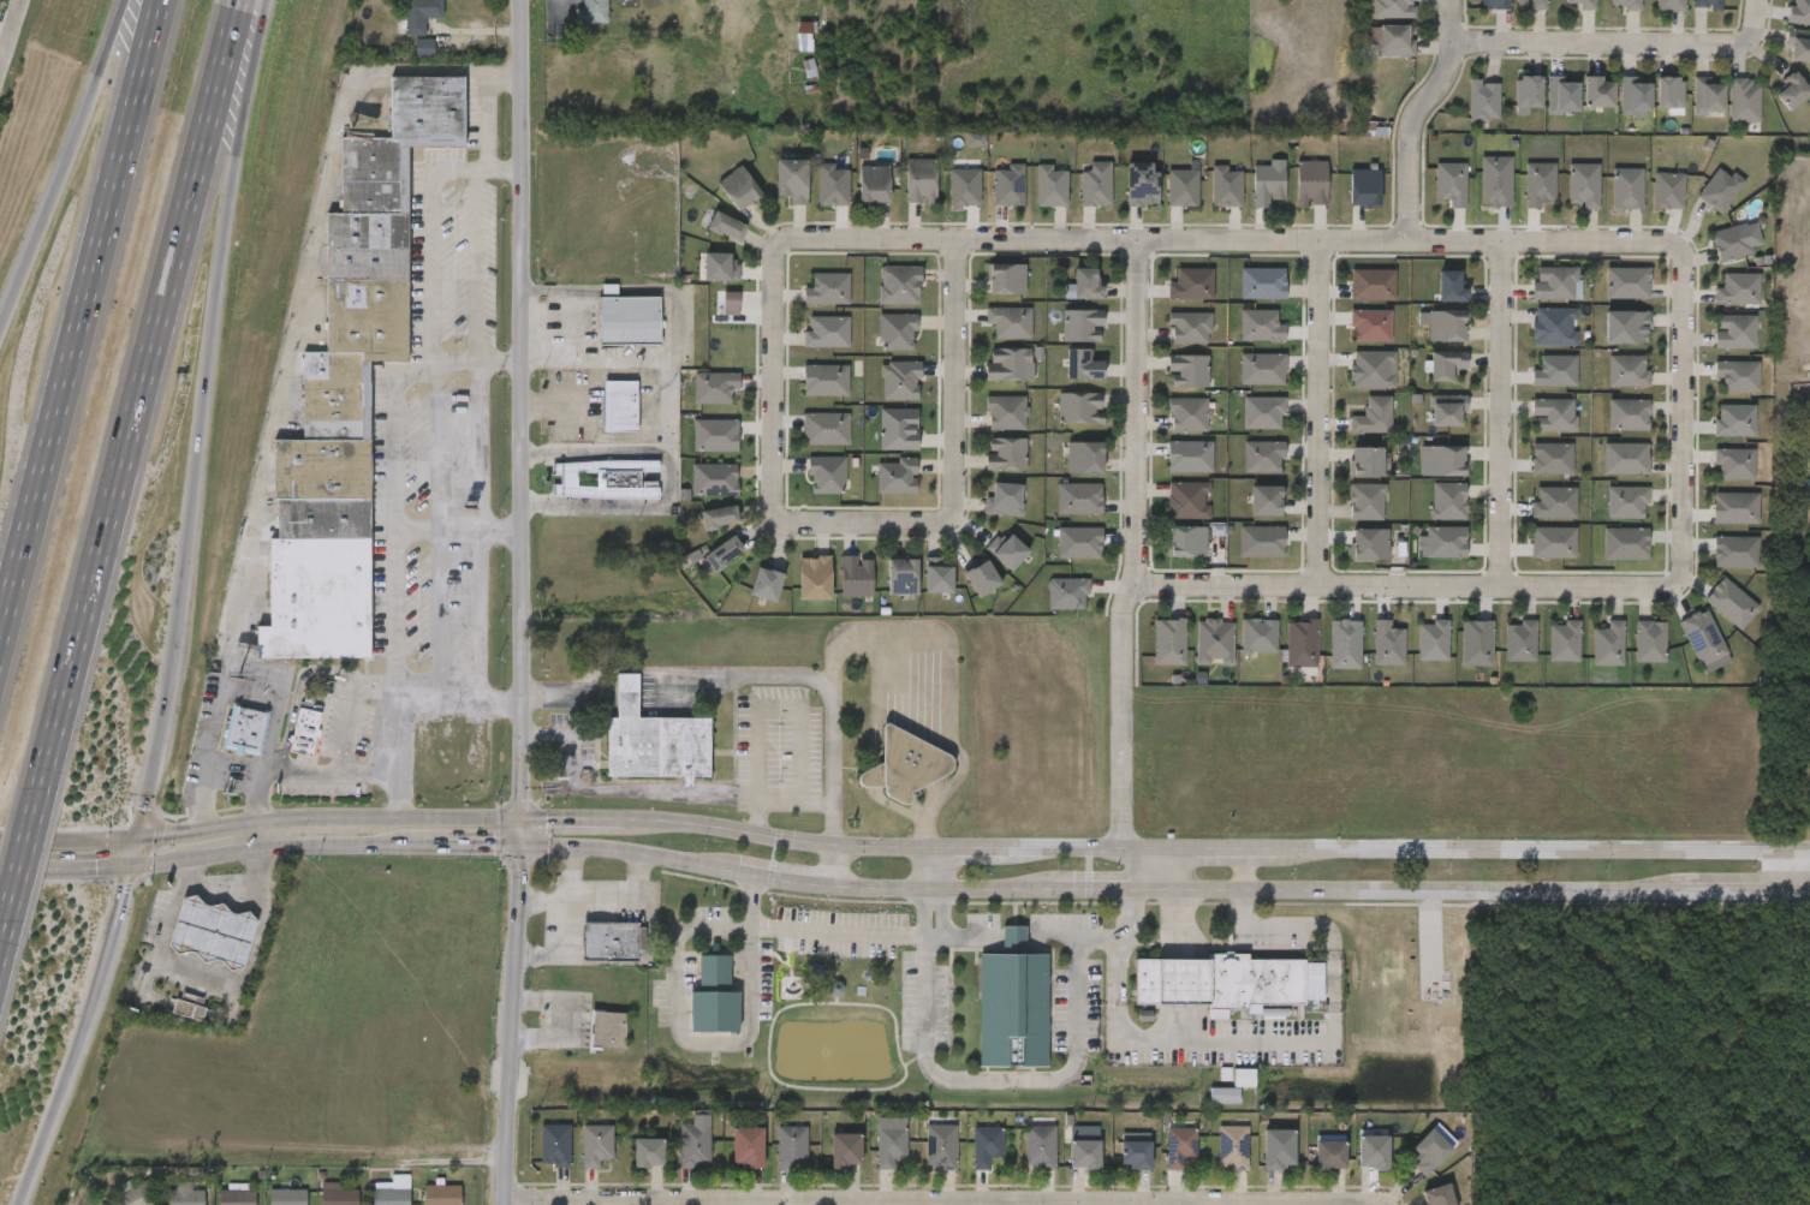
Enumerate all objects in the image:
building: (1579, 4)
building: (1624, 4)
building: (1705, 4)
building: (1495, 5)
building: (1530, 5)
building: (1669, 5)
building: (1393, 8)
building: (590, 12)
building: (1798, 12)
building: (417, 16)
road: (1751, 20)
road: (11, 37)
building: (805, 37)
building: (1395, 41)
road: (1597, 42)
building: (1798, 46)
road: (4, 48)
building: (424, 48)
building: (1529, 91)
building: (1598, 91)
building: (1793, 91)
building: (1669, 93)
building: (1562, 95)
building: (1635, 96)
building: (1708, 96)
building: (1744, 100)
building: (1483, 101)
road: (1416, 117)
road: (487, 121)
building: (400, 142)
road: (62, 157)
building: (792, 181)
building: (919, 181)
building: (1498, 181)
building: (1311, 183)
building: (1095, 184)
building: (1267, 184)
building: (1451, 184)
building: (1537, 184)
building: (832, 185)
building: (874, 185)
building: (1007, 185)
building: (1141, 185)
building: (1583, 185)
building: (1050, 186)
building: (964, 187)
building: (1183, 187)
building: (1226, 187)
building: (1364, 187)
building: (738, 189)
building: (1626, 189)
building: (1721, 190)
building: (1669, 191)
building: (726, 228)
road: (1231, 241)
building: (1737, 241)
building: (367, 244)
building: (722, 268)
building: (1006, 280)
building: (1553, 282)
building: (1088, 284)
building: (1263, 284)
building: (1629, 284)
building: (898, 285)
building: (1193, 285)
building: (1374, 285)
building: (1449, 287)
road: (546, 290)
building: (829, 290)
building: (1739, 290)
road: (300, 292)
building: (731, 304)
road: (76, 318)
building: (627, 320)
building: (1008, 322)
building: (1082, 324)
building: (1262, 326)
building: (1370, 326)
building: (1446, 326)
road: (570, 327)
building: (1553, 327)
building: (1625, 327)
road: (684, 328)
building: (1189, 328)
building: (828, 332)
building: (898, 332)
building: (1733, 333)
building: (352, 353)
road: (477, 364)
road: (547, 364)
building: (1006, 364)
building: (1082, 364)
building: (1446, 365)
building: (1263, 369)
building: (1371, 370)
building: (1187, 371)
building: (1556, 371)
building: (1627, 371)
road: (404, 376)
building: (1739, 376)
road: (774, 380)
road: (587, 381)
building: (824, 381)
building: (901, 381)
road: (957, 382)
building: (715, 387)
road: (141, 392)
road: (1681, 405)
building: (620, 406)
road: (663, 407)
building: (1079, 407)
building: (1448, 411)
building: (1005, 413)
building: (1263, 413)
building: (1186, 414)
building: (1553, 416)
building: (1627, 416)
road: (1318, 417)
building: (1373, 417)
road: (1502, 417)
road: (200, 419)
building: (1735, 420)
building: (827, 429)
building: (899, 429)
road: (481, 434)
building: (716, 436)
road: (611, 437)
road: (591, 451)
building: (1004, 453)
building: (1191, 457)
building: (1263, 457)
building: (1084, 458)
building: (1553, 459)
building: (1627, 459)
building: (1367, 461)
building: (1446, 461)
building: (1735, 464)
building: (321, 467)
building: (828, 476)
building: (898, 477)
building: (606, 478)
building: (715, 481)
building: (1004, 499)
building: (1080, 499)
building: (1187, 500)
building: (1267, 501)
building: (1365, 501)
building: (1447, 501)
building: (1627, 502)
building: (1555, 503)
road: (619, 507)
building: (1737, 508)
building: (322, 517)
building: (718, 517)
road: (861, 525)
road: (458, 531)
building: (1186, 541)
building: (1262, 542)
building: (1080, 543)
building: (1369, 543)
building: (1443, 543)
building: (1554, 543)
building: (1626, 544)
road: (1137, 547)
building: (1008, 550)
building: (724, 551)
building: (1734, 551)
building: (856, 575)
building: (814, 577)
building: (901, 577)
building: (939, 578)
building: (983, 579)
road: (1415, 592)
building: (316, 598)
building: (1059, 601)
road: (522, 602)
road: (439, 612)
building: (1717, 612)
building: (1258, 636)
building: (1702, 637)
building: (1431, 640)
building: (1519, 640)
building: (1169, 642)
building: (1213, 642)
building: (1562, 642)
building: (1650, 642)
building: (1300, 643)
building: (1476, 643)
building: (1345, 644)
building: (1607, 644)
building: (1239, 652)
building: (1413, 656)
building: (1150, 657)
building: (1195, 657)
building: (1501, 657)
building: (1544, 657)
building: (1631, 657)
building: (1685, 657)
building: (1282, 660)
building: (1326, 660)
building: (1369, 660)
building: (1458, 660)
building: (1589, 661)
road: (822, 682)
road: (245, 684)
road: (567, 691)
road: (456, 694)
road: (350, 708)
road: (778, 710)
building: (245, 729)
building: (304, 732)
building: (655, 739)
building: (286, 744)
building: (227, 746)
road: (368, 770)
road: (621, 791)
road: (394, 795)
road: (779, 801)
traffic signals: (520, 821)
road: (257, 834)
traffic signals: (133, 839)
road: (340, 843)
road: (471, 846)
traffic signals: (520, 847)
road: (225, 851)
road: (903, 851)
road: (130, 852)
road: (627, 853)
road: (26, 854)
road: (160, 860)
road: (11, 865)
road: (75, 865)
traffic signals: (127, 865)
road: (832, 867)
road: (1163, 870)
road: (1242, 871)
road: (1800, 873)
road: (781, 879)
road: (1108, 889)
road: (941, 891)
road: (1421, 893)
road: (1740, 893)
road: (1805, 893)
road: (597, 896)
road: (541, 900)
gas station: (212, 930)
road: (818, 933)
road: (930, 937)
road: (1050, 937)
road: (969, 938)
road: (1012, 938)
road: (5, 939)
building: (609, 941)
building: (198, 945)
road: (564, 949)
building: (593, 958)
road: (215, 972)
building: (1227, 980)
building: (712, 992)
building: (1012, 1003)
building: (696, 1013)
road: (560, 1019)
building: (607, 1030)
road: (680, 1030)
road: (77, 1037)
building: (579, 1044)
road: (1264, 1048)
road: (1028, 1080)
building: (1225, 1093)
building: (1204, 1110)
building: (889, 1141)
building: (596, 1145)
building: (790, 1145)
building: (554, 1146)
building: (693, 1146)
building: (984, 1146)
building: (1178, 1146)
building: (746, 1147)
building: (940, 1147)
building: (1040, 1147)
building: (1232, 1147)
building: (1278, 1149)
building: (845, 1150)
building: (1431, 1150)
building: (1373, 1151)
building: (1329, 1152)
building: (648, 1153)
building: (1084, 1153)
building: (1135, 1155)
building: (871, 1156)
building: (677, 1157)
building: (578, 1159)
building: (536, 1161)
building: (773, 1161)
building: (730, 1162)
building: (922, 1162)
building: (967, 1162)
building: (1022, 1162)
building: (1161, 1162)
building: (1066, 1163)
building: (1214, 1163)
building: (1260, 1164)
building: (1413, 1164)
building: (826, 1165)
building: (1117, 1165)
building: (630, 1168)
building: (1311, 1168)
building: (1354, 1168)
building: (393, 1192)
building: (441, 1195)
building: (1439, 1195)
building: (287, 1197)
building: (339, 1197)
building: (184, 1198)
building: (237, 1198)
building: (123, 1201)
building: (312, 1201)
building: (1423, 1203)
building: (149, 1204)
road: (947, 1204)
road: (1388, 1204)

